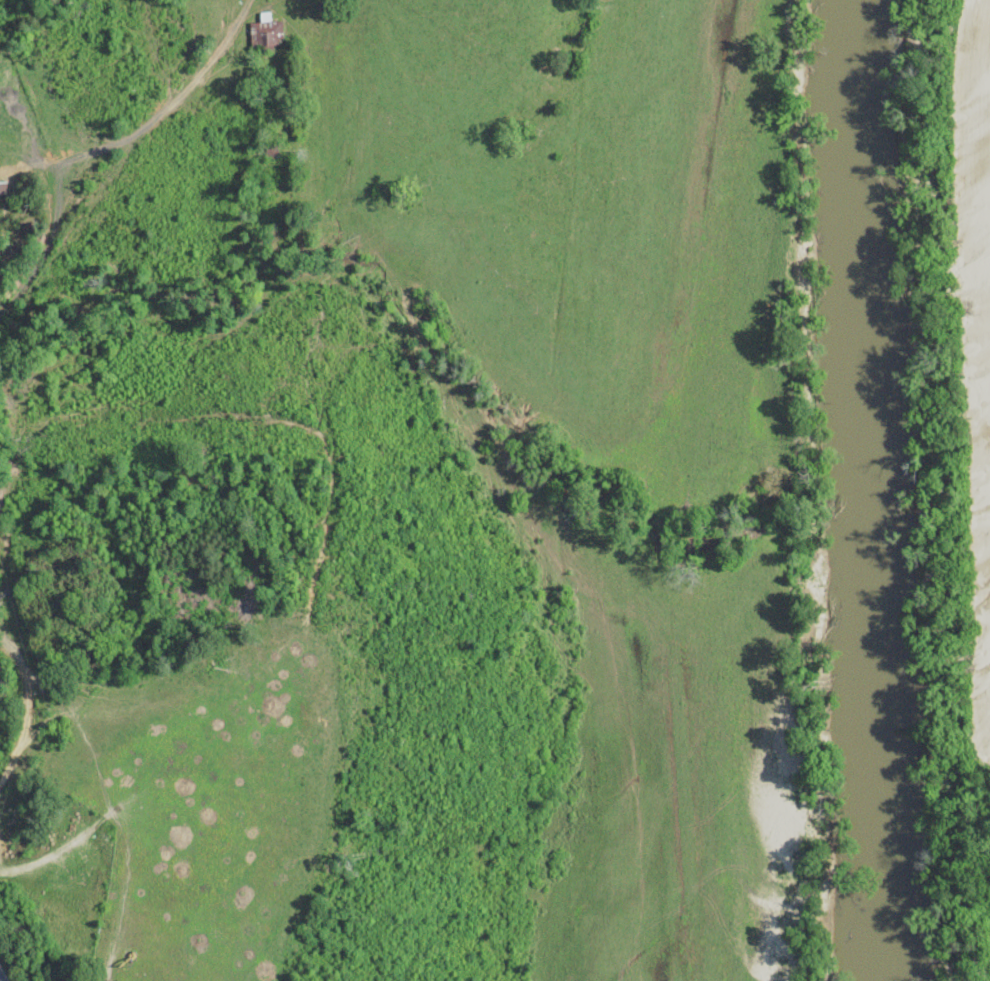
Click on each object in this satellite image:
building: (264, 30)
road: (85, 152)
river: (856, 246)
road: (29, 708)
river: (876, 737)

